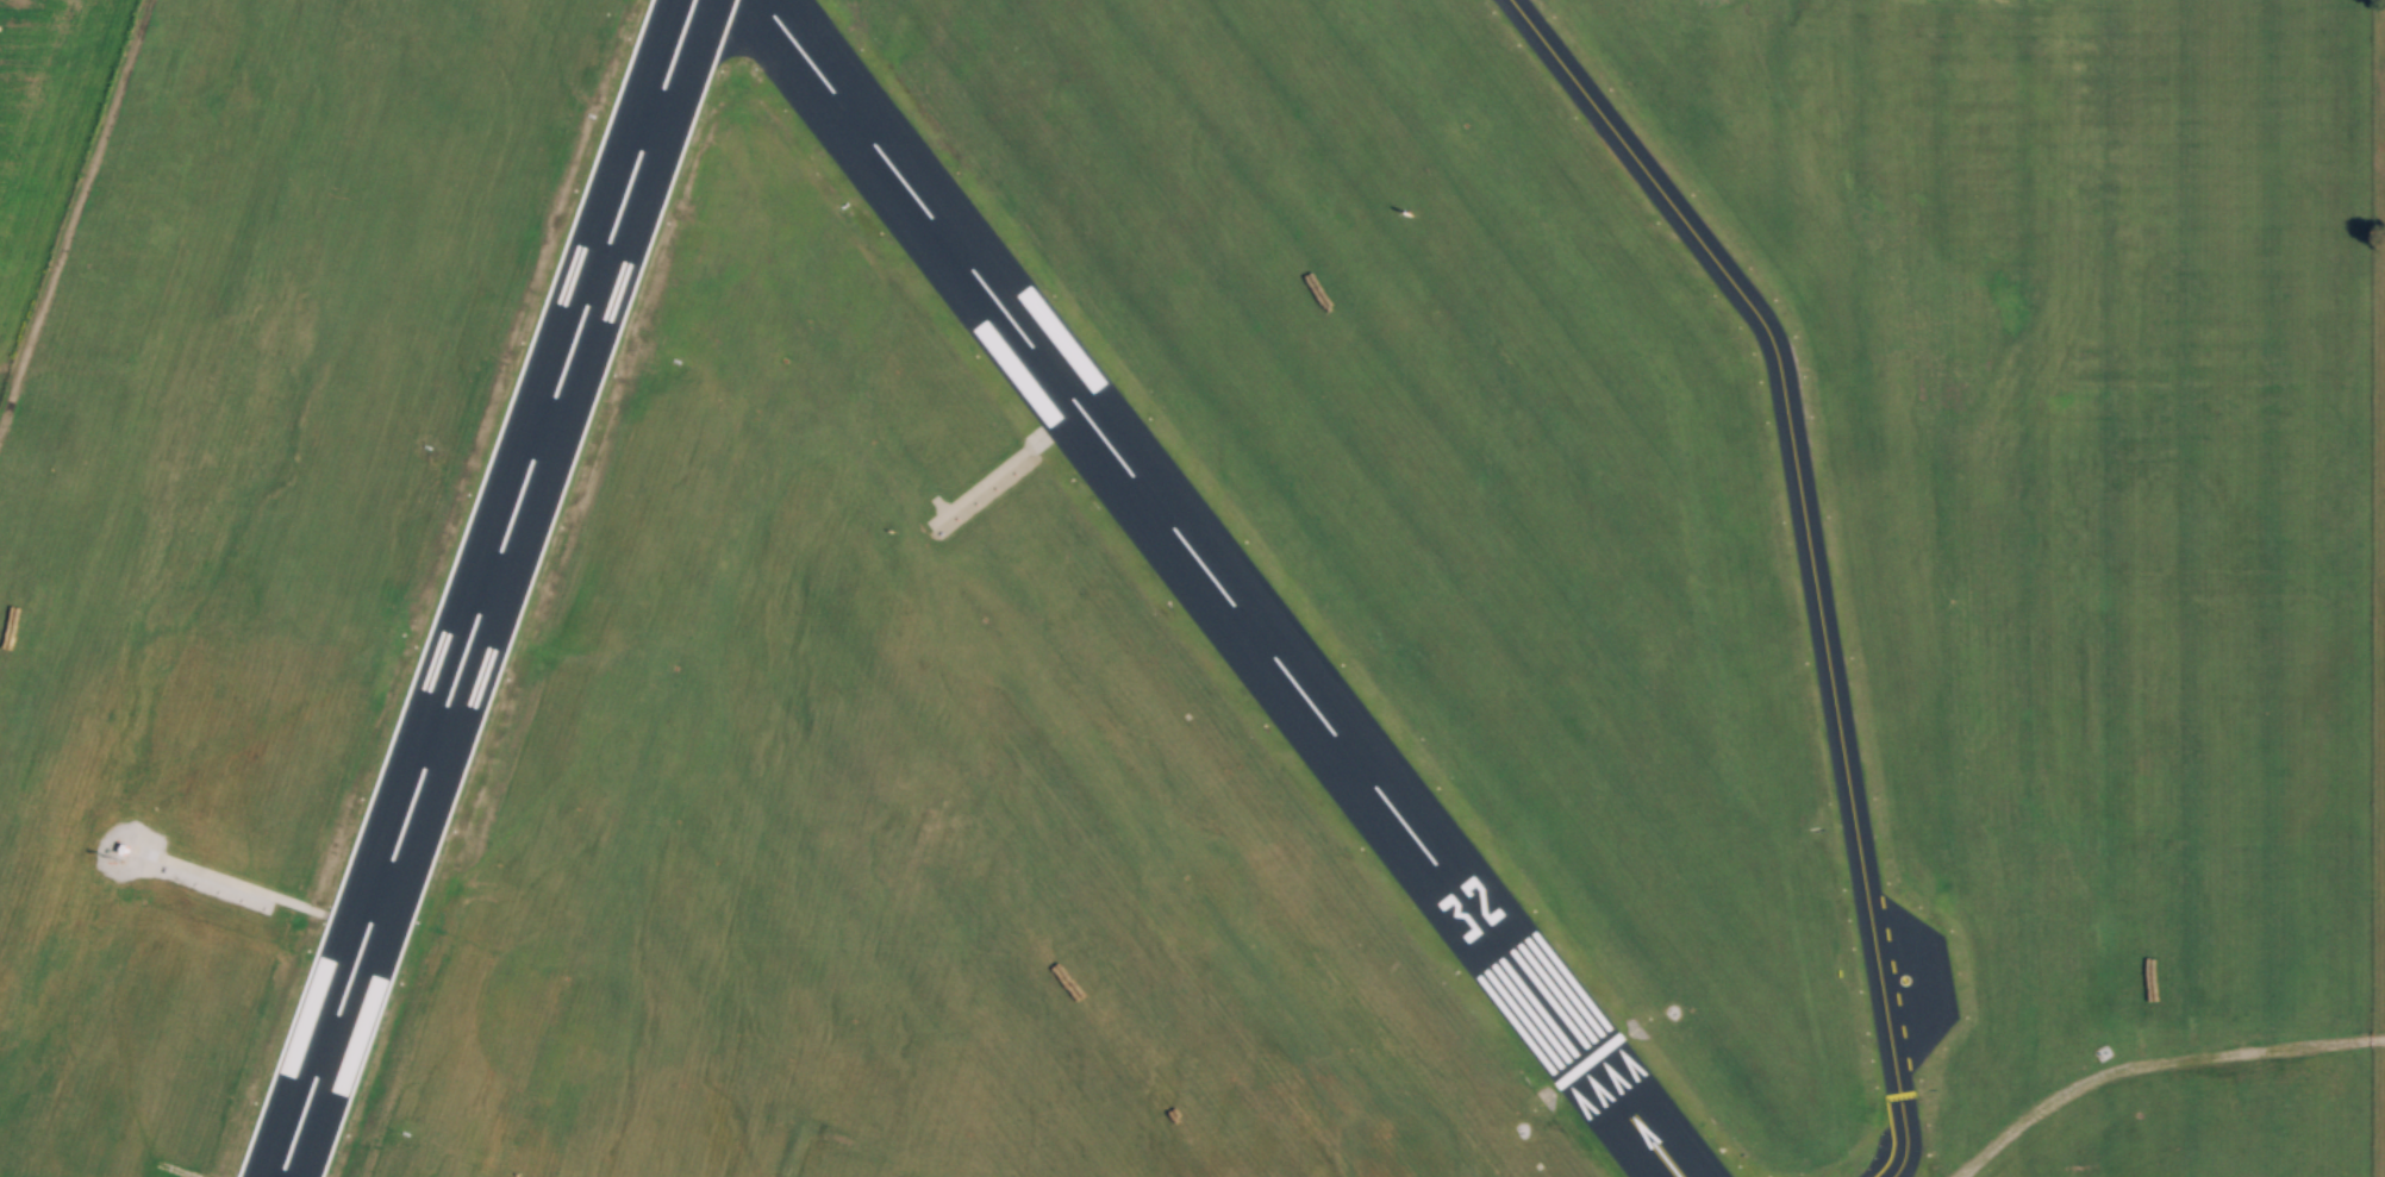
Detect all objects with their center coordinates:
road: (73, 206)
airport taxiway: (1804, 547)
airport runway: (481, 588)
airport: (1192, 588)
airport runway: (1216, 588)
building: (1571, 1050)
road: (2149, 1062)

